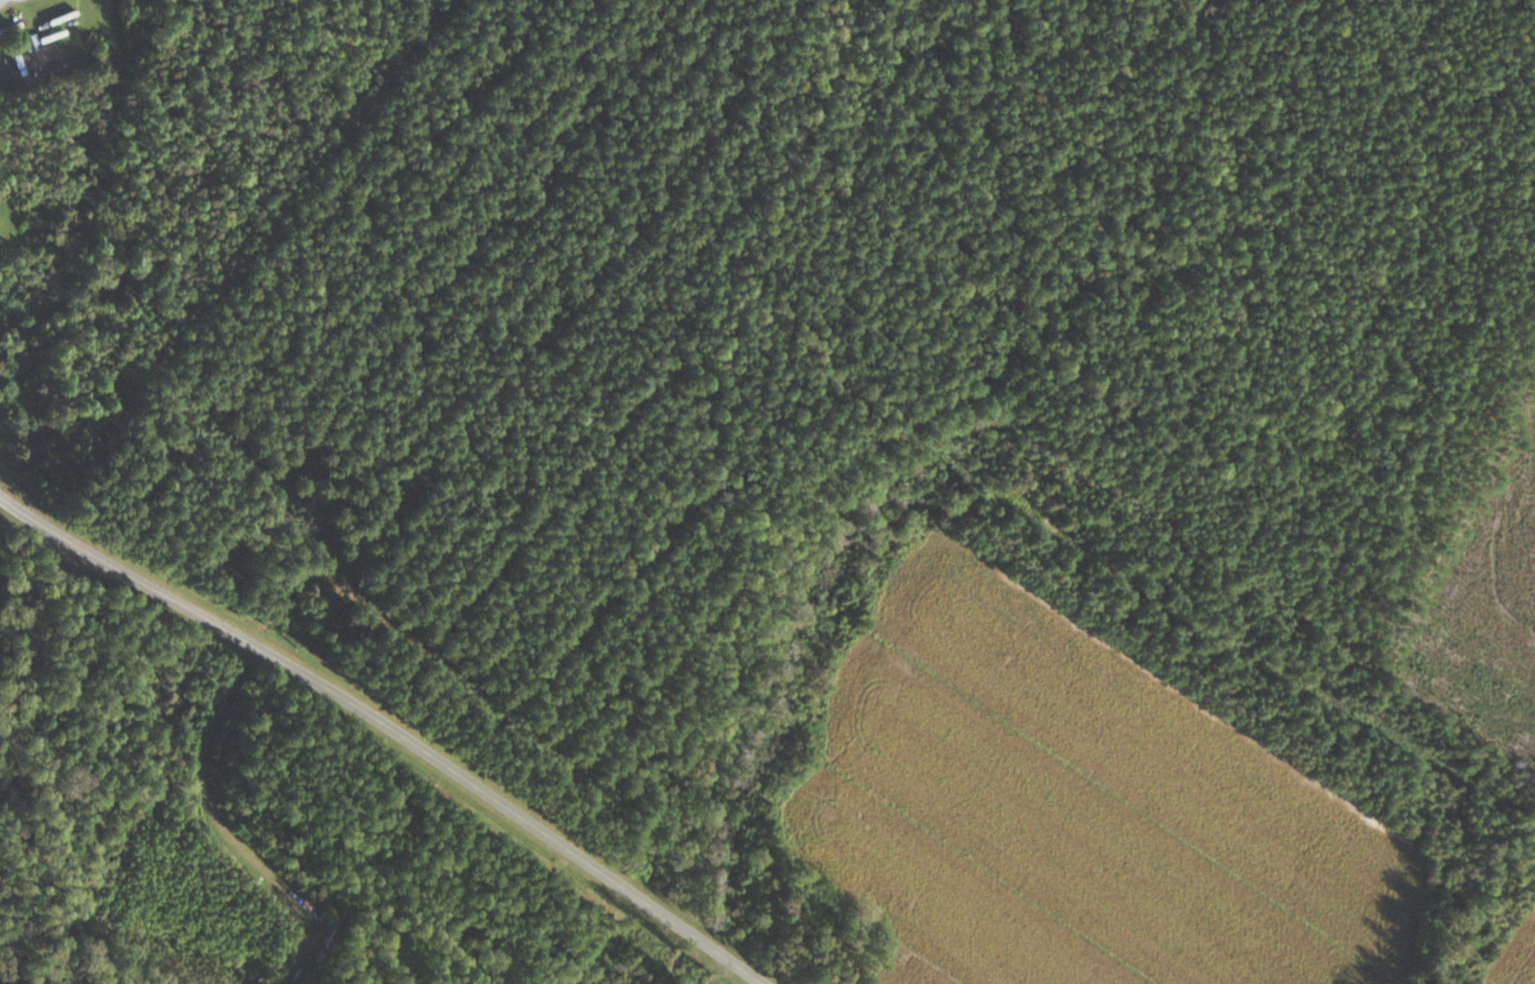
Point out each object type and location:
road: (307, 678)
road: (223, 824)
road: (682, 930)

